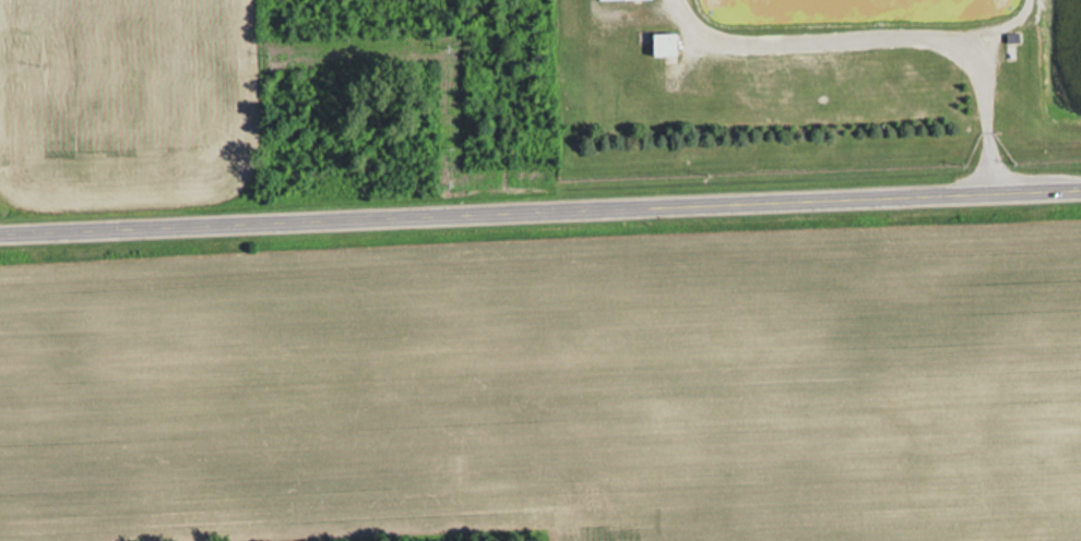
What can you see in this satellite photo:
road: (891, 36)
building: (662, 46)
road: (539, 207)

